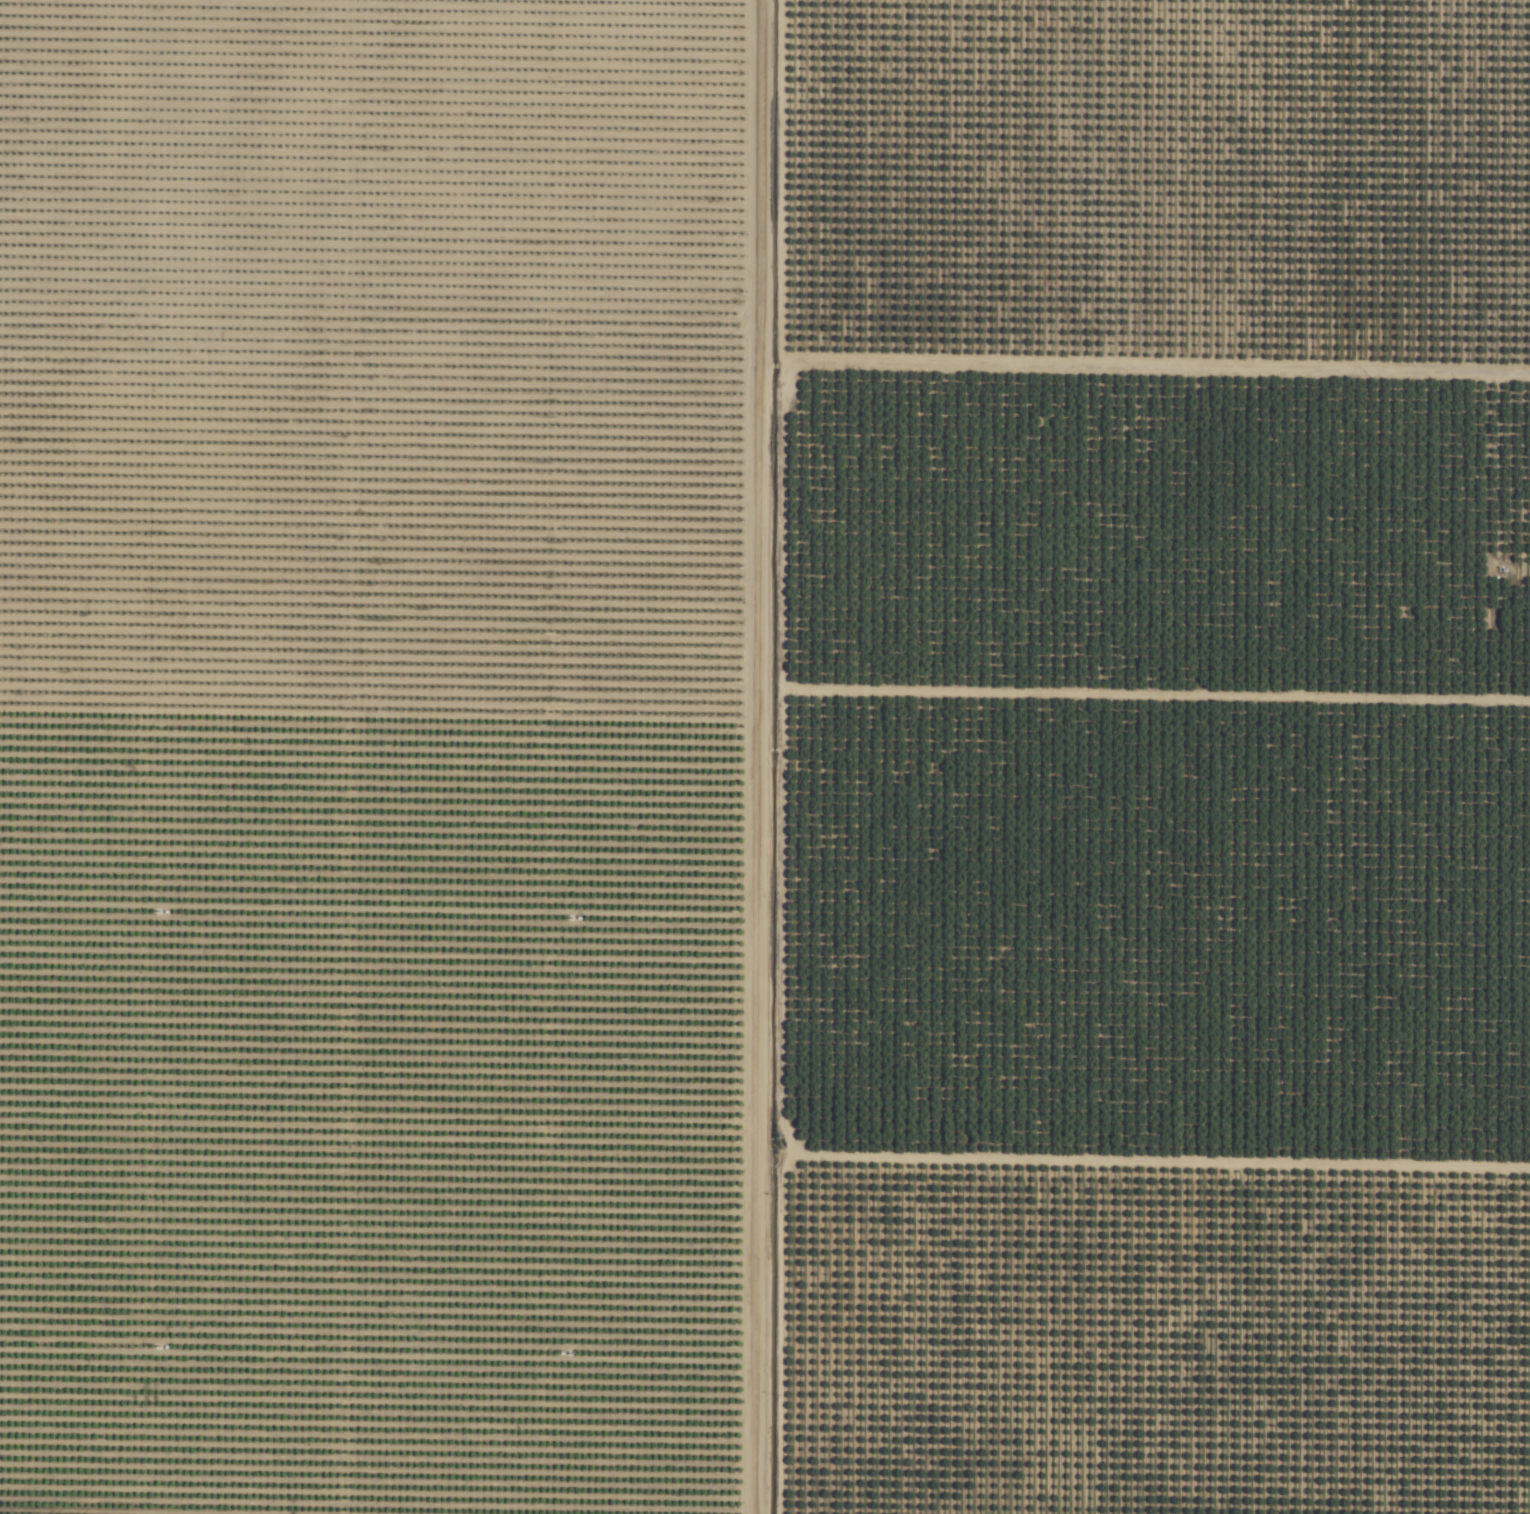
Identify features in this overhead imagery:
road: (332, 288)
crop: (1155, 1340)

